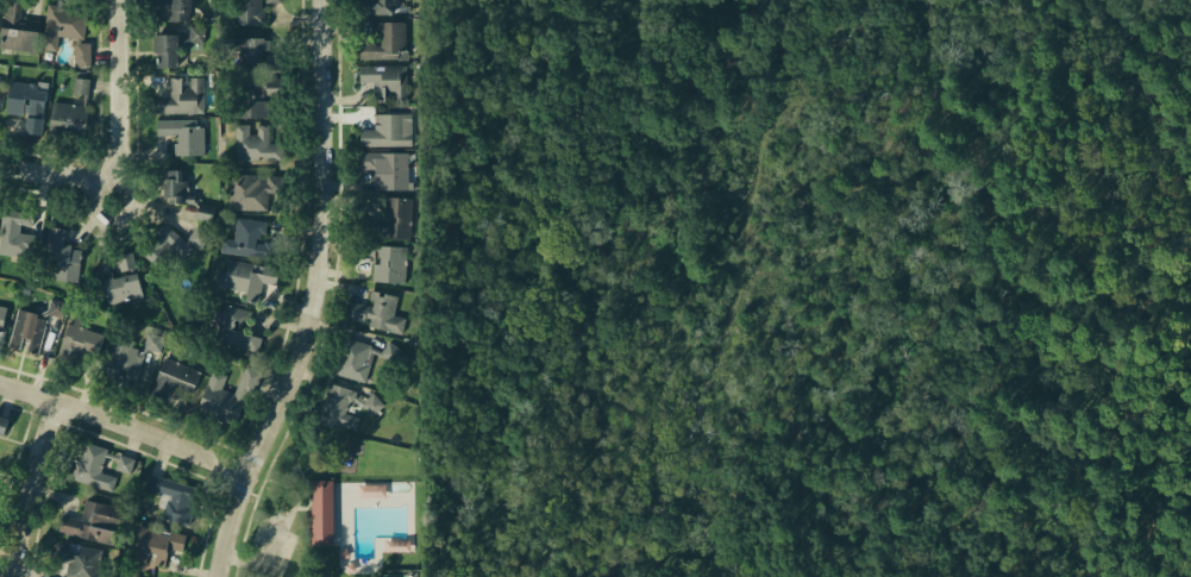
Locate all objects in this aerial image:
building: (378, 6)
building: (176, 8)
road: (123, 10)
building: (250, 11)
building: (19, 33)
building: (196, 33)
building: (73, 37)
building: (382, 42)
building: (164, 48)
building: (253, 50)
building: (382, 82)
building: (0, 83)
building: (253, 95)
building: (182, 98)
road: (125, 101)
building: (25, 105)
building: (69, 111)
building: (381, 131)
building: (183, 134)
building: (256, 143)
building: (383, 167)
road: (50, 173)
road: (107, 188)
building: (251, 189)
building: (184, 194)
building: (388, 206)
building: (18, 234)
building: (249, 238)
building: (169, 242)
building: (62, 255)
building: (384, 261)
building: (242, 278)
building: (121, 280)
road: (309, 296)
building: (2, 314)
building: (378, 316)
building: (30, 327)
building: (232, 332)
building: (79, 344)
building: (389, 352)
building: (126, 358)
building: (352, 360)
building: (173, 376)
building: (224, 395)
building: (344, 407)
road: (124, 421)
building: (1, 422)
road: (284, 429)
building: (88, 464)
road: (281, 485)
road: (30, 488)
road: (258, 488)
building: (372, 491)
road: (302, 494)
road: (251, 495)
building: (173, 496)
road: (295, 500)
road: (307, 502)
park: (336, 502)
road: (300, 508)
building: (320, 510)
road: (276, 514)
road: (275, 519)
road: (280, 519)
road: (284, 519)
road: (288, 519)
building: (92, 520)
road: (267, 520)
road: (270, 520)
road: (271, 523)
road: (244, 525)
building: (158, 542)
parking lot: (270, 547)
road: (268, 550)
road: (236, 559)
road: (240, 560)
building: (74, 562)
road: (233, 571)
park: (237, 572)

